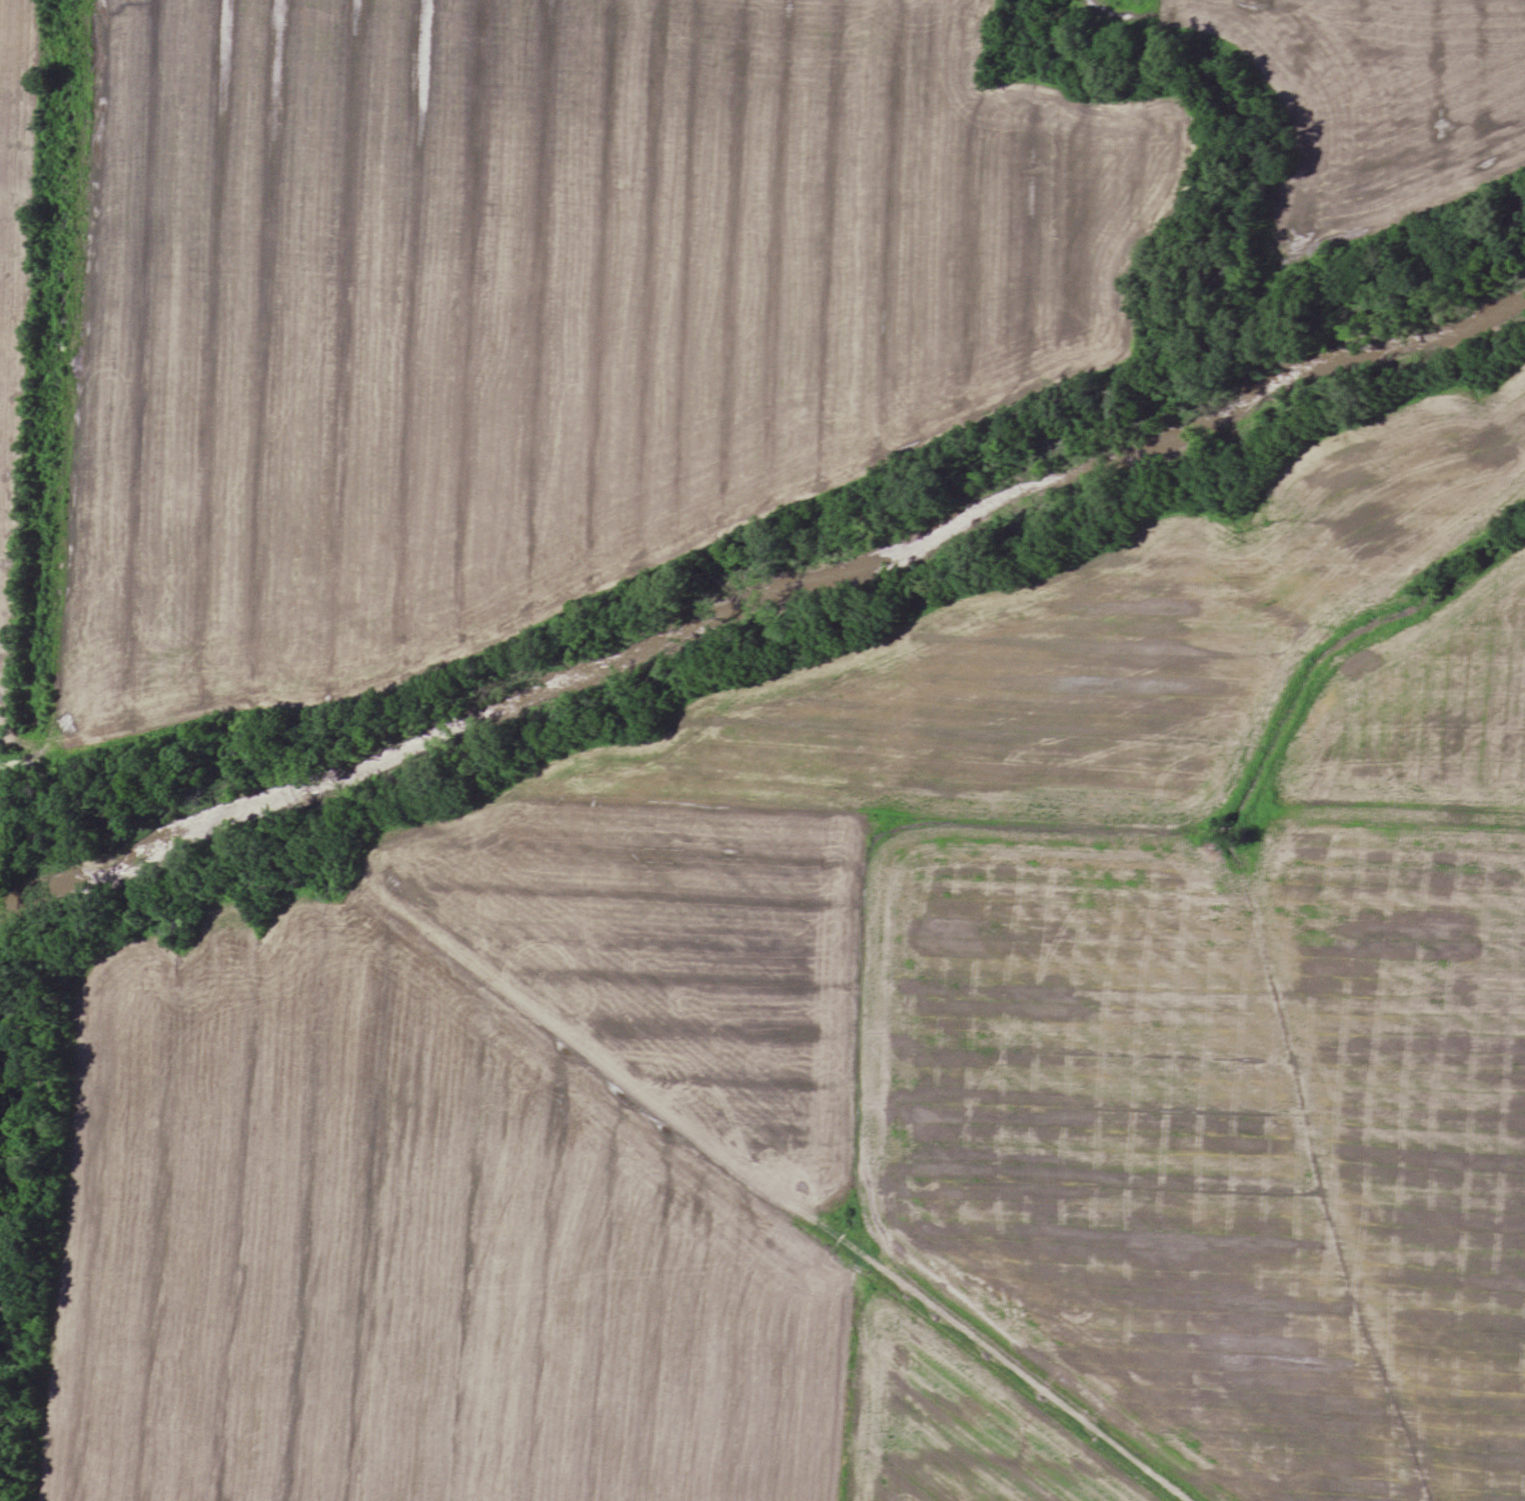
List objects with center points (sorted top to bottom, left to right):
crop: (1378, 113)
crop: (13, 293)
crop: (534, 310)
river: (762, 604)
crop: (1423, 702)
road: (4, 760)
crop: (911, 778)
crop: (3, 788)
crop: (1221, 1127)
road: (774, 1190)
crop: (400, 1243)
crop: (956, 1423)

